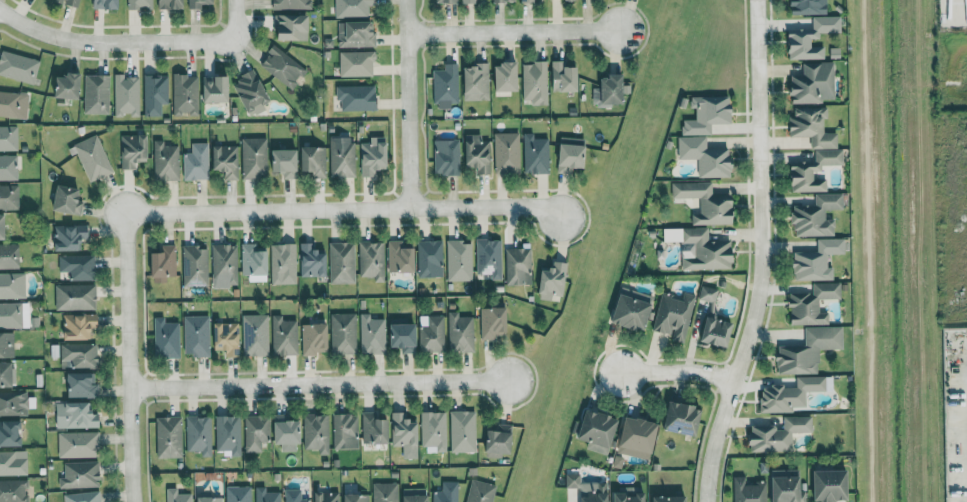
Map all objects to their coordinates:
building: (503, 0)
building: (528, 0)
building: (447, 1)
building: (469, 1)
building: (70, 2)
building: (107, 3)
building: (139, 4)
building: (172, 4)
building: (200, 4)
building: (290, 4)
building: (809, 7)
building: (353, 8)
building: (962, 11)
road: (231, 18)
building: (292, 26)
road: (514, 31)
building: (357, 33)
building: (812, 37)
road: (109, 42)
building: (356, 63)
building: (19, 66)
building: (284, 66)
building: (508, 76)
building: (565, 77)
building: (478, 81)
building: (536, 82)
building: (814, 83)
building: (70, 85)
building: (446, 85)
building: (611, 90)
building: (253, 92)
building: (155, 93)
building: (186, 93)
building: (97, 94)
building: (127, 95)
building: (357, 97)
road: (408, 102)
building: (14, 104)
building: (709, 114)
building: (9, 138)
building: (814, 148)
building: (134, 150)
building: (479, 153)
building: (507, 153)
building: (536, 154)
building: (573, 154)
building: (374, 156)
building: (447, 156)
building: (707, 156)
building: (343, 157)
building: (93, 158)
building: (255, 158)
building: (227, 160)
building: (315, 160)
building: (167, 161)
building: (197, 162)
building: (287, 162)
building: (9, 167)
building: (9, 196)
building: (69, 199)
building: (708, 202)
road: (345, 207)
building: (818, 215)
building: (3, 226)
building: (71, 237)
building: (702, 248)
road: (761, 254)
building: (10, 255)
building: (402, 257)
building: (490, 257)
building: (431, 258)
building: (255, 259)
building: (372, 259)
building: (460, 260)
building: (818, 260)
building: (313, 261)
building: (343, 262)
building: (164, 263)
building: (284, 263)
building: (225, 265)
building: (78, 266)
building: (196, 266)
building: (518, 266)
building: (554, 280)
building: (13, 285)
building: (709, 293)
building: (76, 297)
building: (814, 304)
building: (635, 309)
building: (14, 314)
building: (676, 315)
building: (494, 322)
building: (79, 326)
building: (718, 331)
building: (344, 333)
building: (461, 333)
building: (373, 334)
building: (433, 334)
building: (197, 335)
building: (255, 335)
building: (405, 335)
building: (284, 336)
building: (167, 338)
building: (228, 338)
building: (315, 338)
building: (7, 345)
building: (809, 350)
building: (79, 356)
road: (128, 359)
road: (678, 371)
building: (7, 374)
road: (319, 383)
building: (83, 385)
building: (794, 393)
building: (14, 403)
building: (77, 415)
building: (685, 418)
building: (375, 429)
building: (435, 430)
building: (346, 431)
building: (464, 431)
building: (600, 431)
building: (256, 432)
building: (317, 432)
building: (10, 433)
building: (289, 433)
building: (200, 434)
building: (229, 434)
building: (779, 434)
building: (406, 435)
building: (169, 437)
building: (639, 437)
building: (500, 440)
building: (78, 444)
building: (13, 462)
building: (81, 474)
building: (788, 485)
building: (833, 485)
building: (590, 489)
building: (13, 490)
building: (481, 491)
building: (749, 491)
building: (385, 492)
building: (447, 492)
building: (239, 493)
building: (416, 494)
building: (267, 495)
building: (178, 496)
building: (294, 496)
building: (83, 497)
building: (328, 497)
building: (357, 497)
building: (211, 499)
building: (671, 499)

